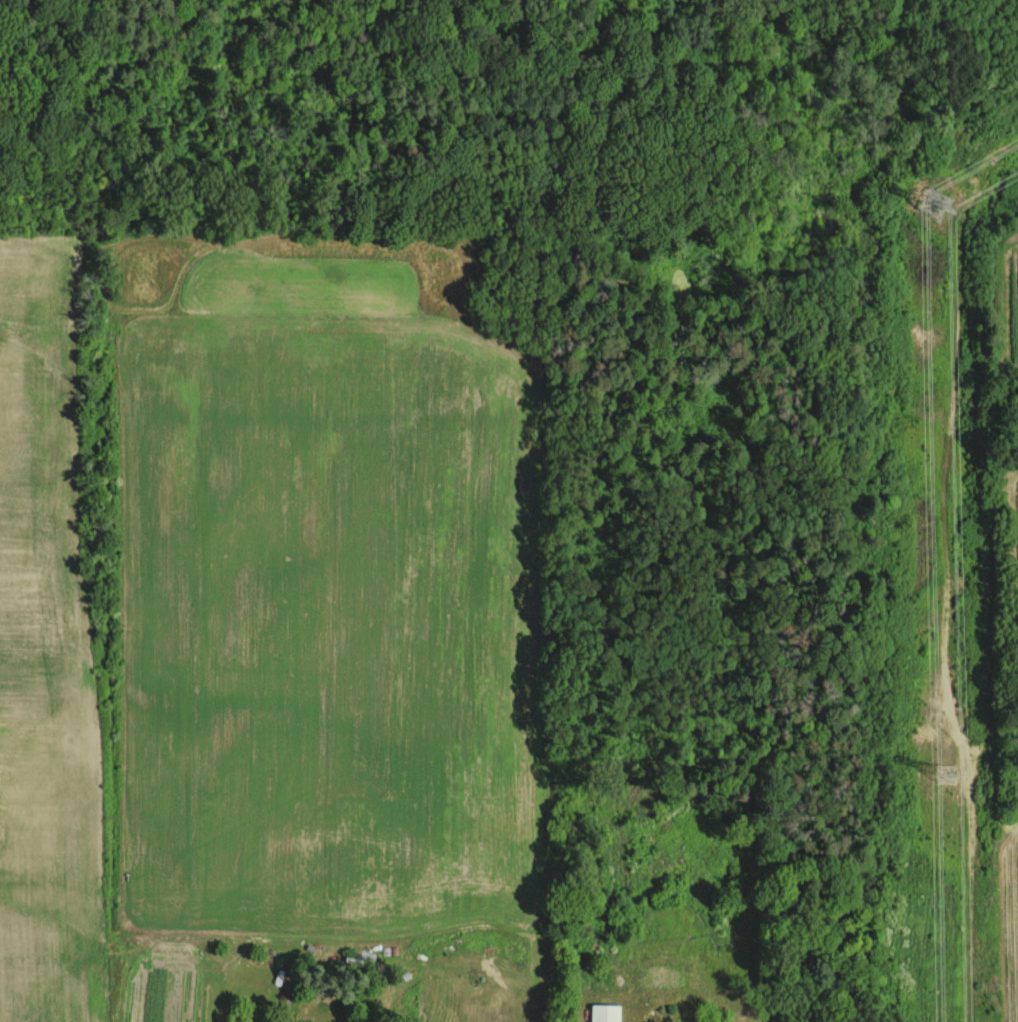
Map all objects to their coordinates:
power tower: (937, 202)
power tower: (942, 773)
building: (604, 1012)
building: (309, 1021)

